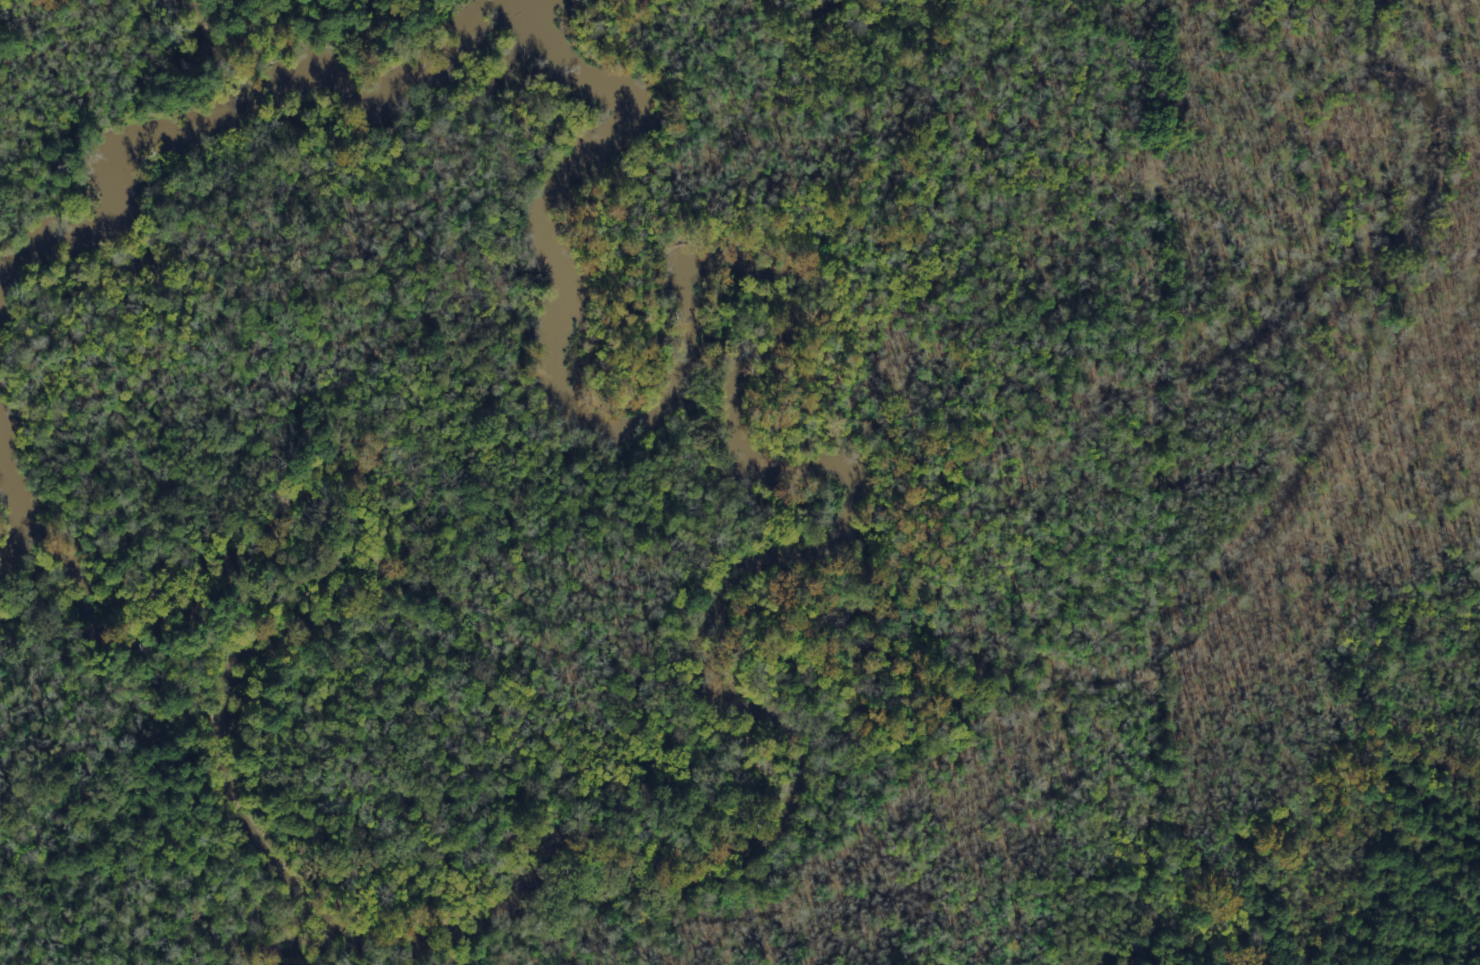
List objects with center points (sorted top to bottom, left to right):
river: (245, 93)
river: (13, 487)

